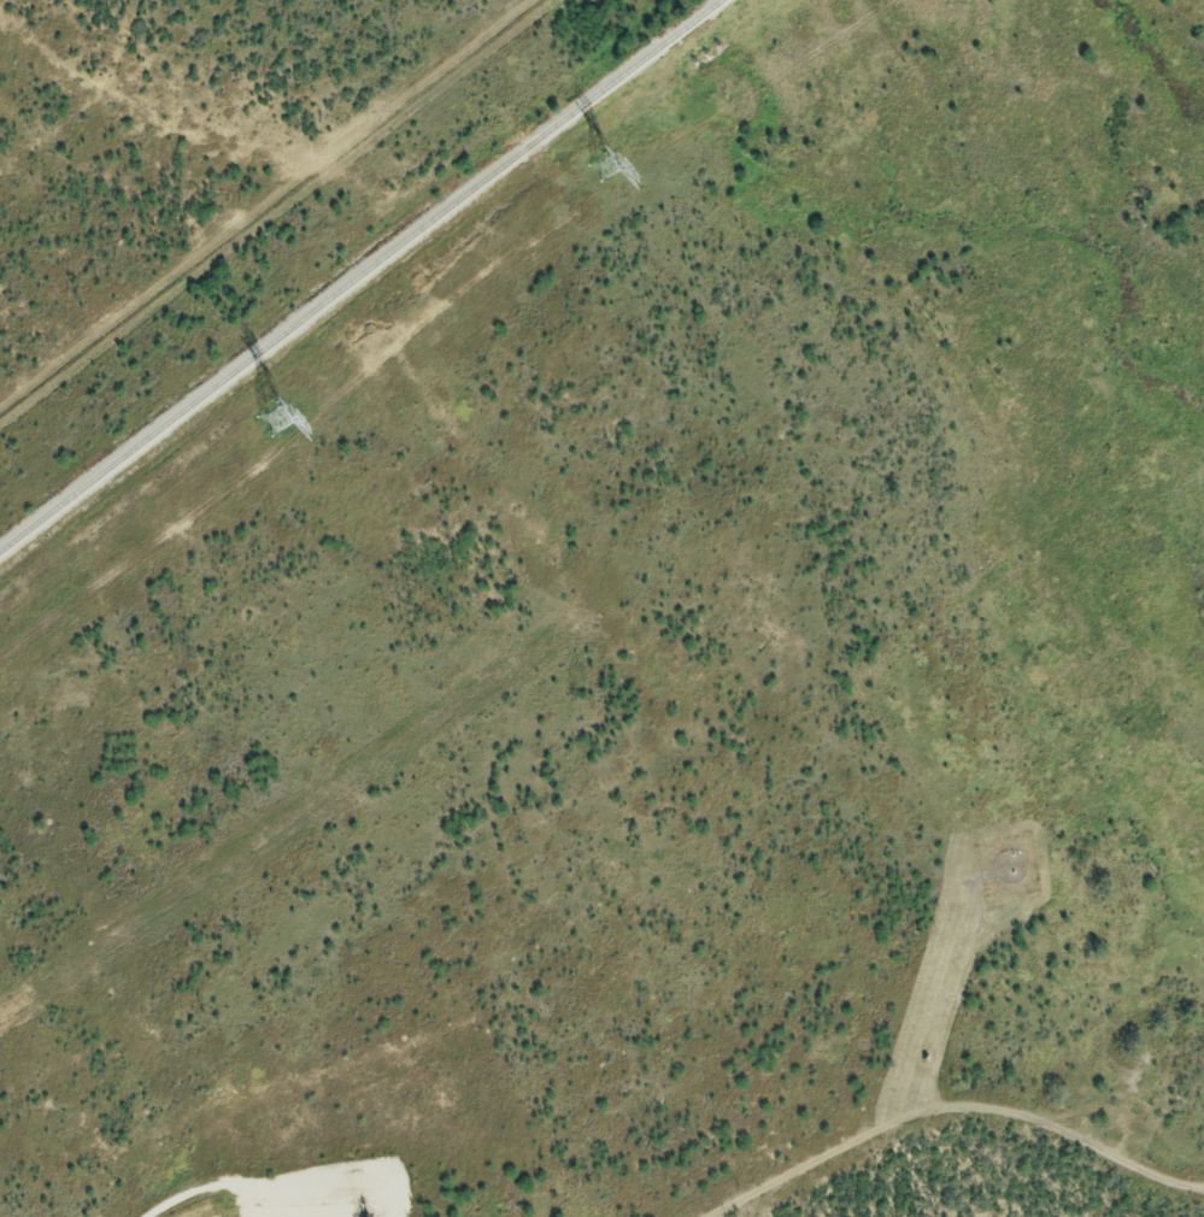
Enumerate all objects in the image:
power tower: (605, 167)
railway: (359, 276)
power tower: (276, 422)
road: (180, 1201)

